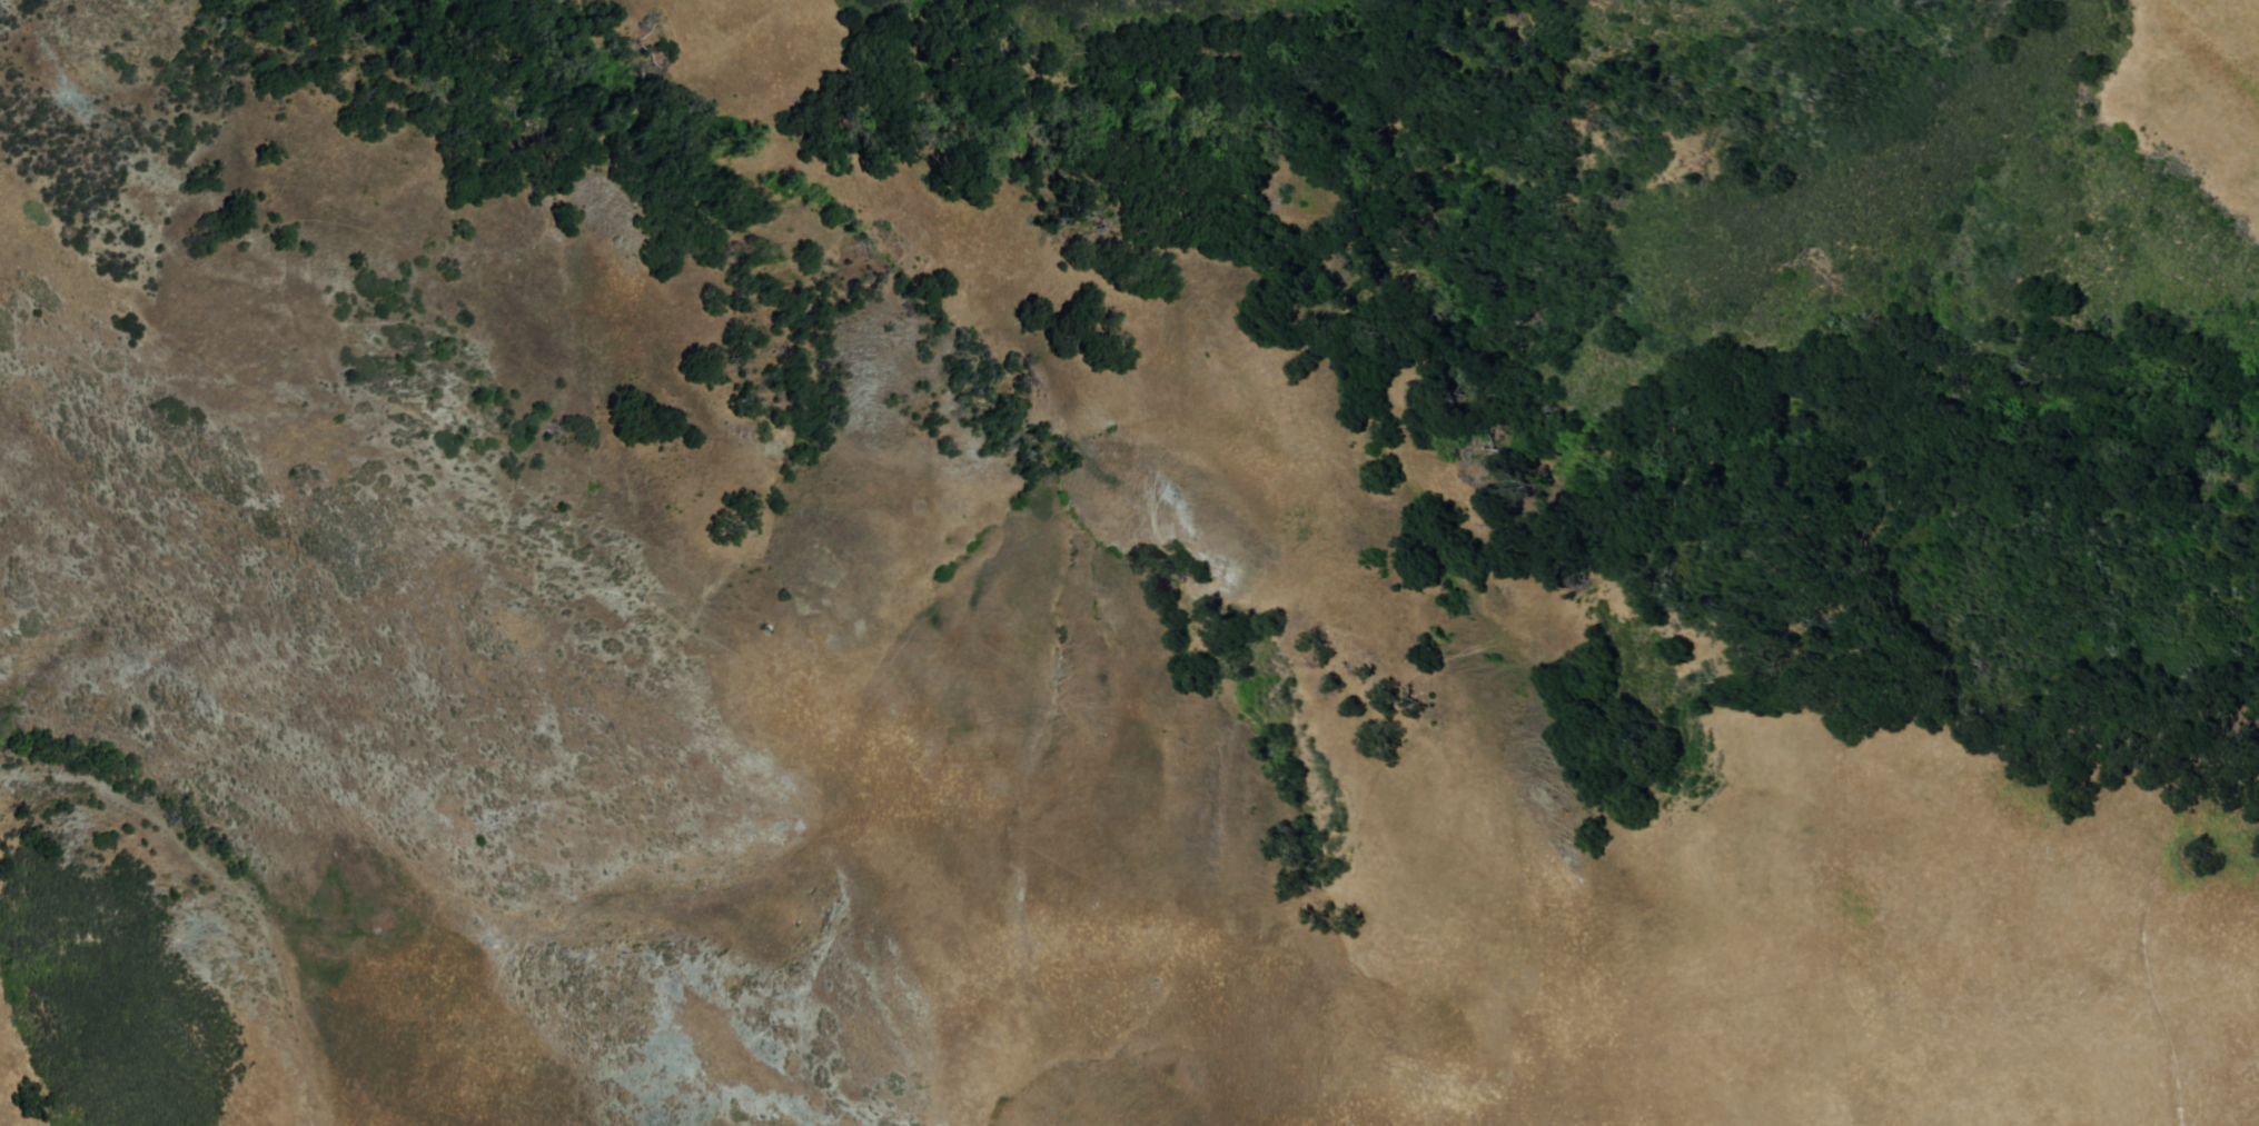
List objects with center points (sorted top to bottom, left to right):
road: (2208, 39)

